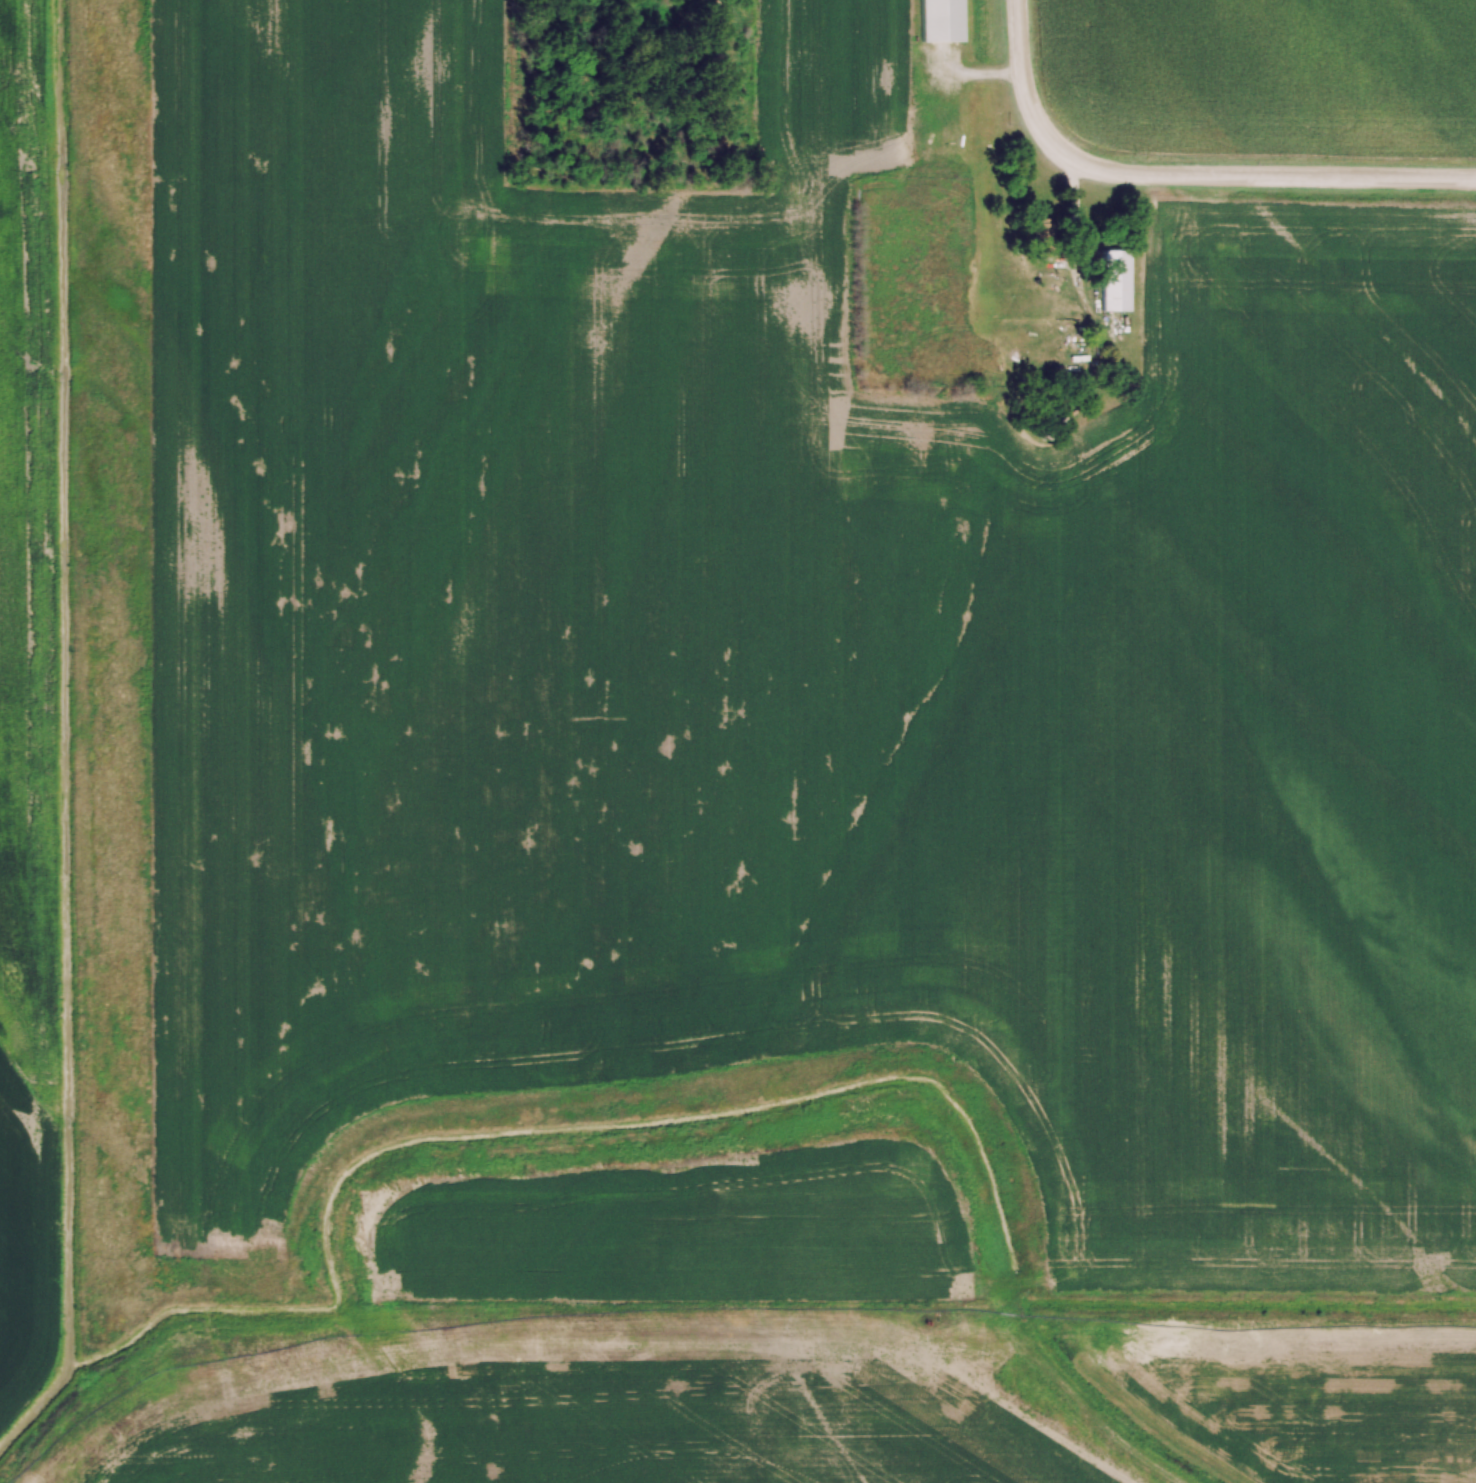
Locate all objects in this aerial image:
road: (1181, 175)
road: (1068, 227)

